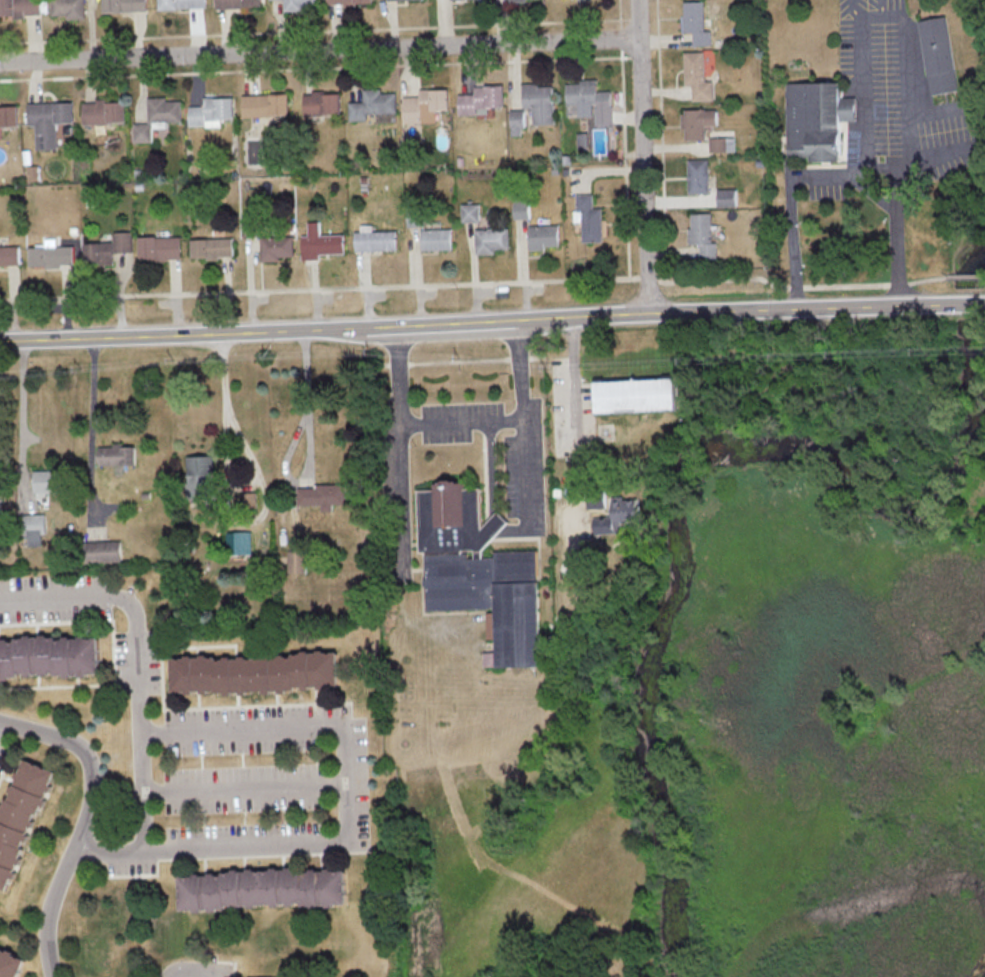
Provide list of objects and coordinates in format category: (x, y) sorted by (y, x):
building: (388, 0)
building: (517, 0)
building: (348, 1)
building: (238, 3)
building: (182, 4)
building: (298, 4)
building: (125, 5)
building: (20, 7)
building: (69, 8)
road: (854, 8)
road: (881, 8)
road: (902, 18)
building: (696, 22)
road: (318, 50)
building: (937, 54)
building: (697, 76)
road: (970, 85)
building: (480, 98)
building: (539, 101)
building: (588, 101)
building: (321, 103)
building: (372, 103)
building: (265, 104)
building: (424, 105)
building: (104, 111)
building: (211, 111)
road: (936, 111)
building: (9, 115)
building: (157, 117)
building: (817, 119)
building: (49, 121)
building: (516, 121)
building: (697, 122)
building: (582, 140)
building: (722, 144)
road: (945, 152)
road: (642, 156)
road: (880, 168)
road: (832, 174)
building: (698, 175)
building: (727, 197)
building: (521, 209)
building: (469, 212)
building: (414, 217)
building: (588, 217)
building: (250, 226)
building: (703, 234)
building: (543, 236)
building: (436, 238)
building: (491, 239)
building: (375, 240)
building: (320, 242)
building: (159, 247)
building: (212, 247)
building: (276, 247)
building: (107, 248)
building: (50, 254)
building: (9, 255)
road: (982, 304)
road: (963, 305)
road: (473, 322)
building: (963, 326)
building: (635, 395)
road: (92, 406)
road: (20, 410)
road: (574, 417)
road: (463, 423)
road: (310, 452)
building: (116, 456)
building: (199, 476)
road: (526, 476)
road: (258, 478)
building: (48, 480)
building: (321, 495)
building: (249, 499)
road: (403, 501)
building: (0, 509)
building: (619, 515)
building: (35, 528)
building: (238, 542)
building: (103, 551)
building: (296, 561)
building: (478, 567)
road: (129, 603)
building: (49, 656)
building: (255, 672)
road: (346, 758)
road: (245, 790)
building: (20, 816)
road: (83, 823)
building: (276, 887)
building: (191, 892)
building: (11, 963)
road: (189, 968)

